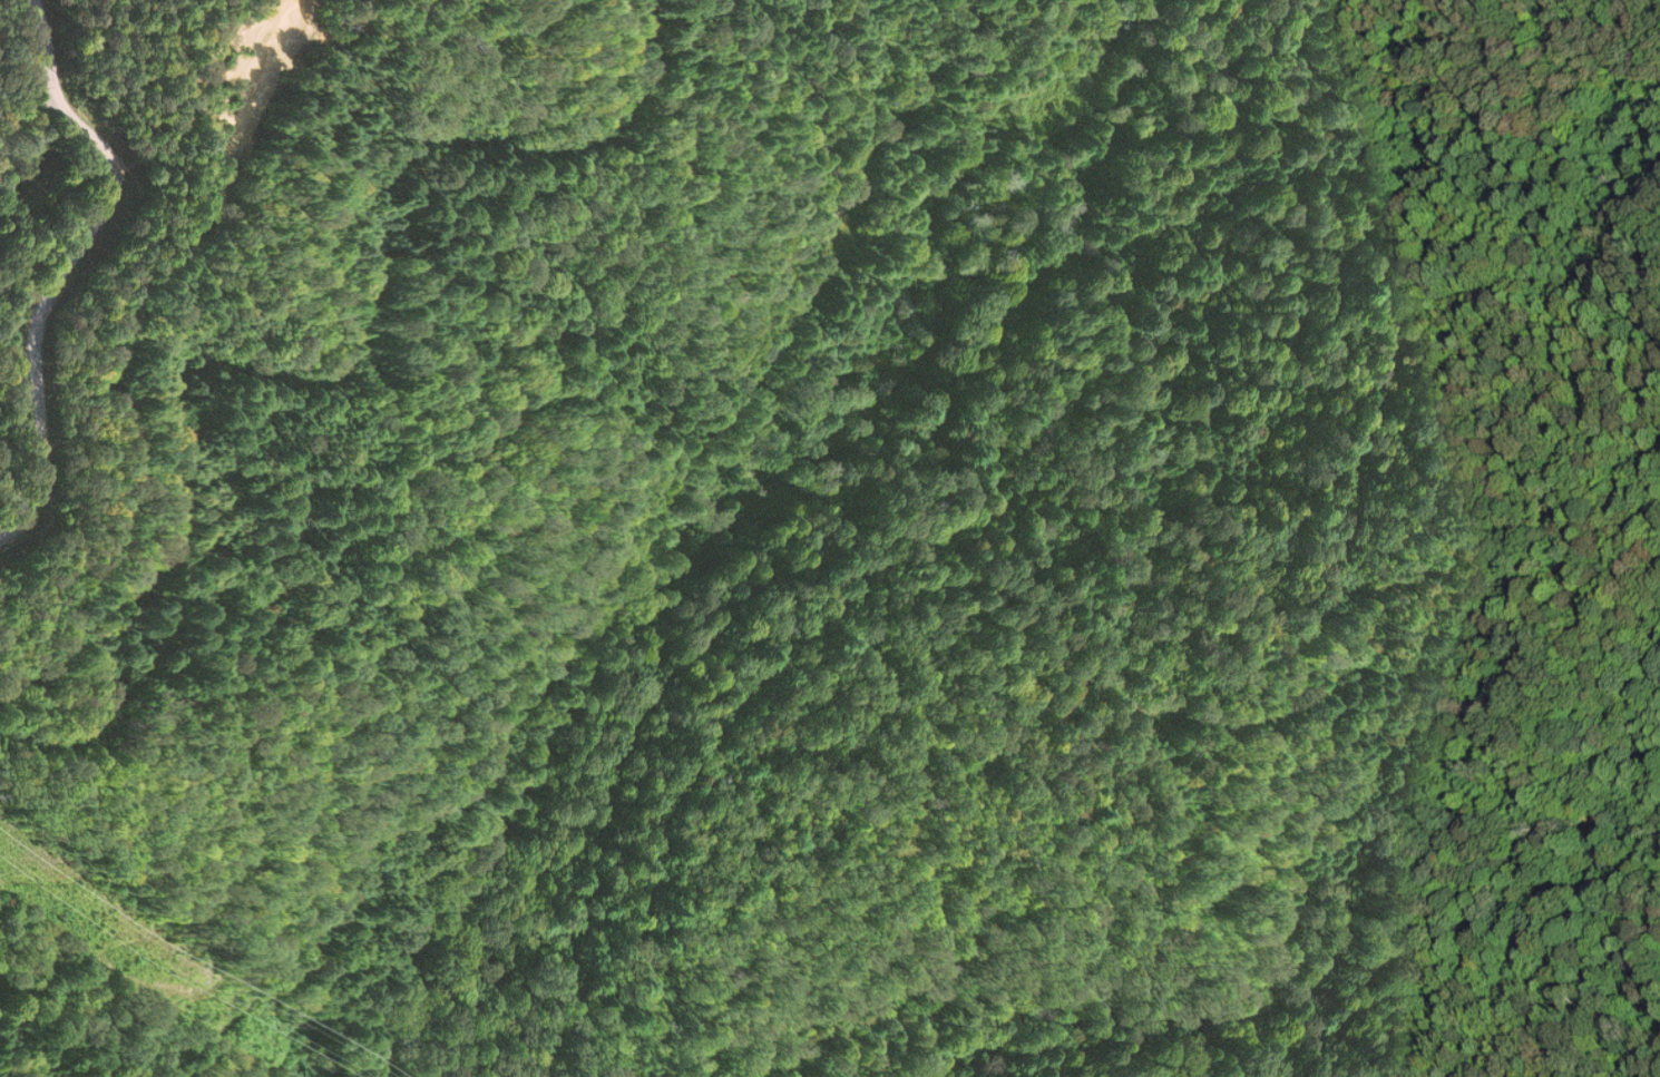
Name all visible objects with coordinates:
road: (68, 258)

